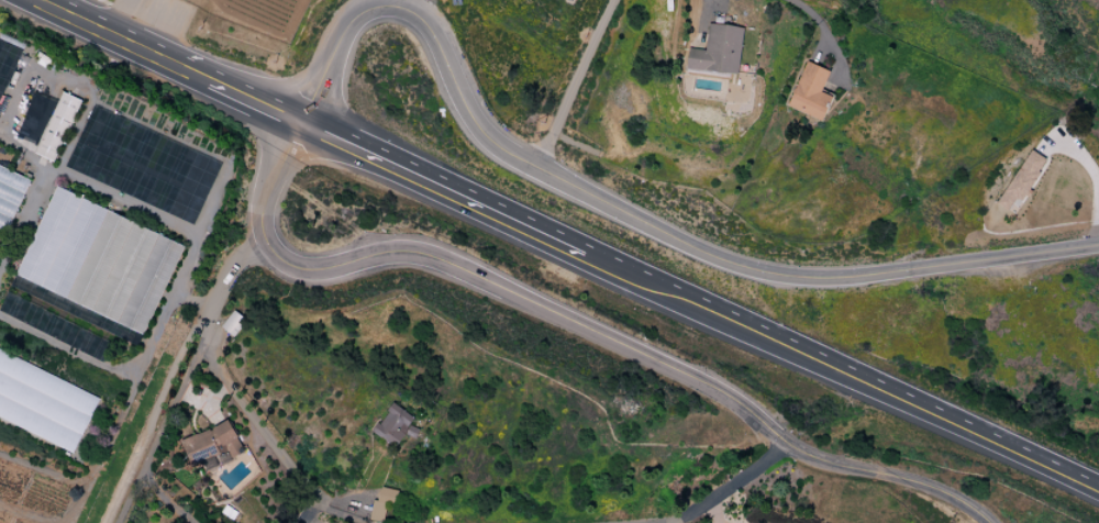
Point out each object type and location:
building: (570, 0)
road: (426, 5)
road: (104, 26)
road: (826, 33)
building: (717, 51)
road: (579, 80)
road: (226, 87)
building: (810, 92)
building: (34, 119)
building: (56, 126)
building: (1020, 181)
road: (455, 193)
building: (10, 194)
road: (623, 201)
road: (140, 207)
road: (25, 218)
building: (99, 260)
road: (574, 321)
road: (181, 357)
road: (106, 370)
road: (856, 379)
building: (43, 401)
road: (264, 424)
building: (395, 426)
road: (726, 490)
road: (158, 494)
building: (381, 504)
road: (314, 512)

